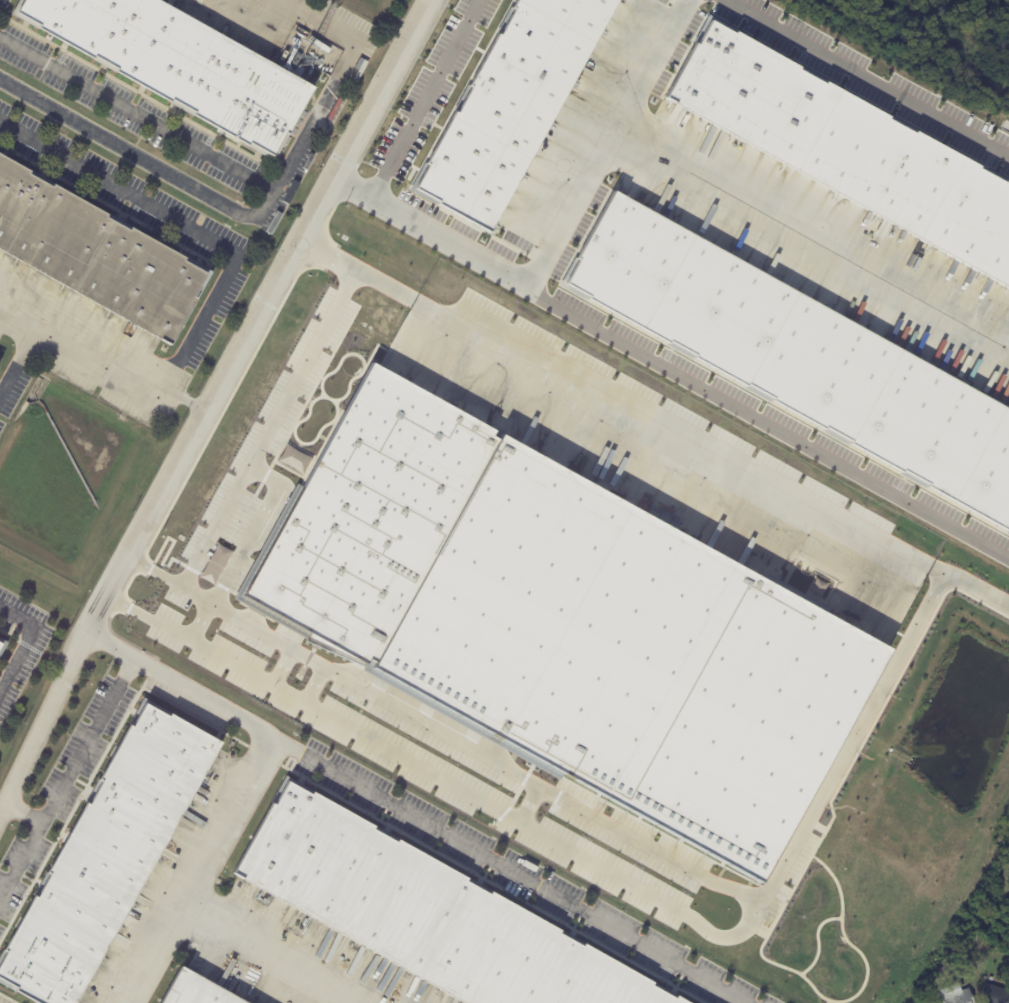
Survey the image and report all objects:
road: (315, 20)
building: (179, 66)
road: (867, 79)
building: (510, 105)
road: (137, 115)
road: (416, 117)
building: (847, 141)
road: (189, 185)
road: (560, 222)
road: (186, 227)
road: (808, 233)
building: (95, 254)
road: (258, 314)
building: (798, 350)
road: (102, 359)
road: (20, 363)
road: (766, 424)
road: (650, 431)
road: (221, 515)
building: (215, 564)
road: (154, 570)
road: (146, 617)
building: (562, 619)
road: (200, 620)
building: (2, 636)
road: (27, 644)
building: (3, 651)
road: (281, 667)
building: (0, 672)
road: (315, 684)
road: (854, 737)
road: (77, 757)
road: (326, 768)
road: (529, 803)
building: (112, 855)
road: (20, 859)
road: (197, 871)
building: (426, 910)
road: (752, 915)
road: (268, 950)
building: (197, 991)
building: (950, 994)
building: (994, 994)

